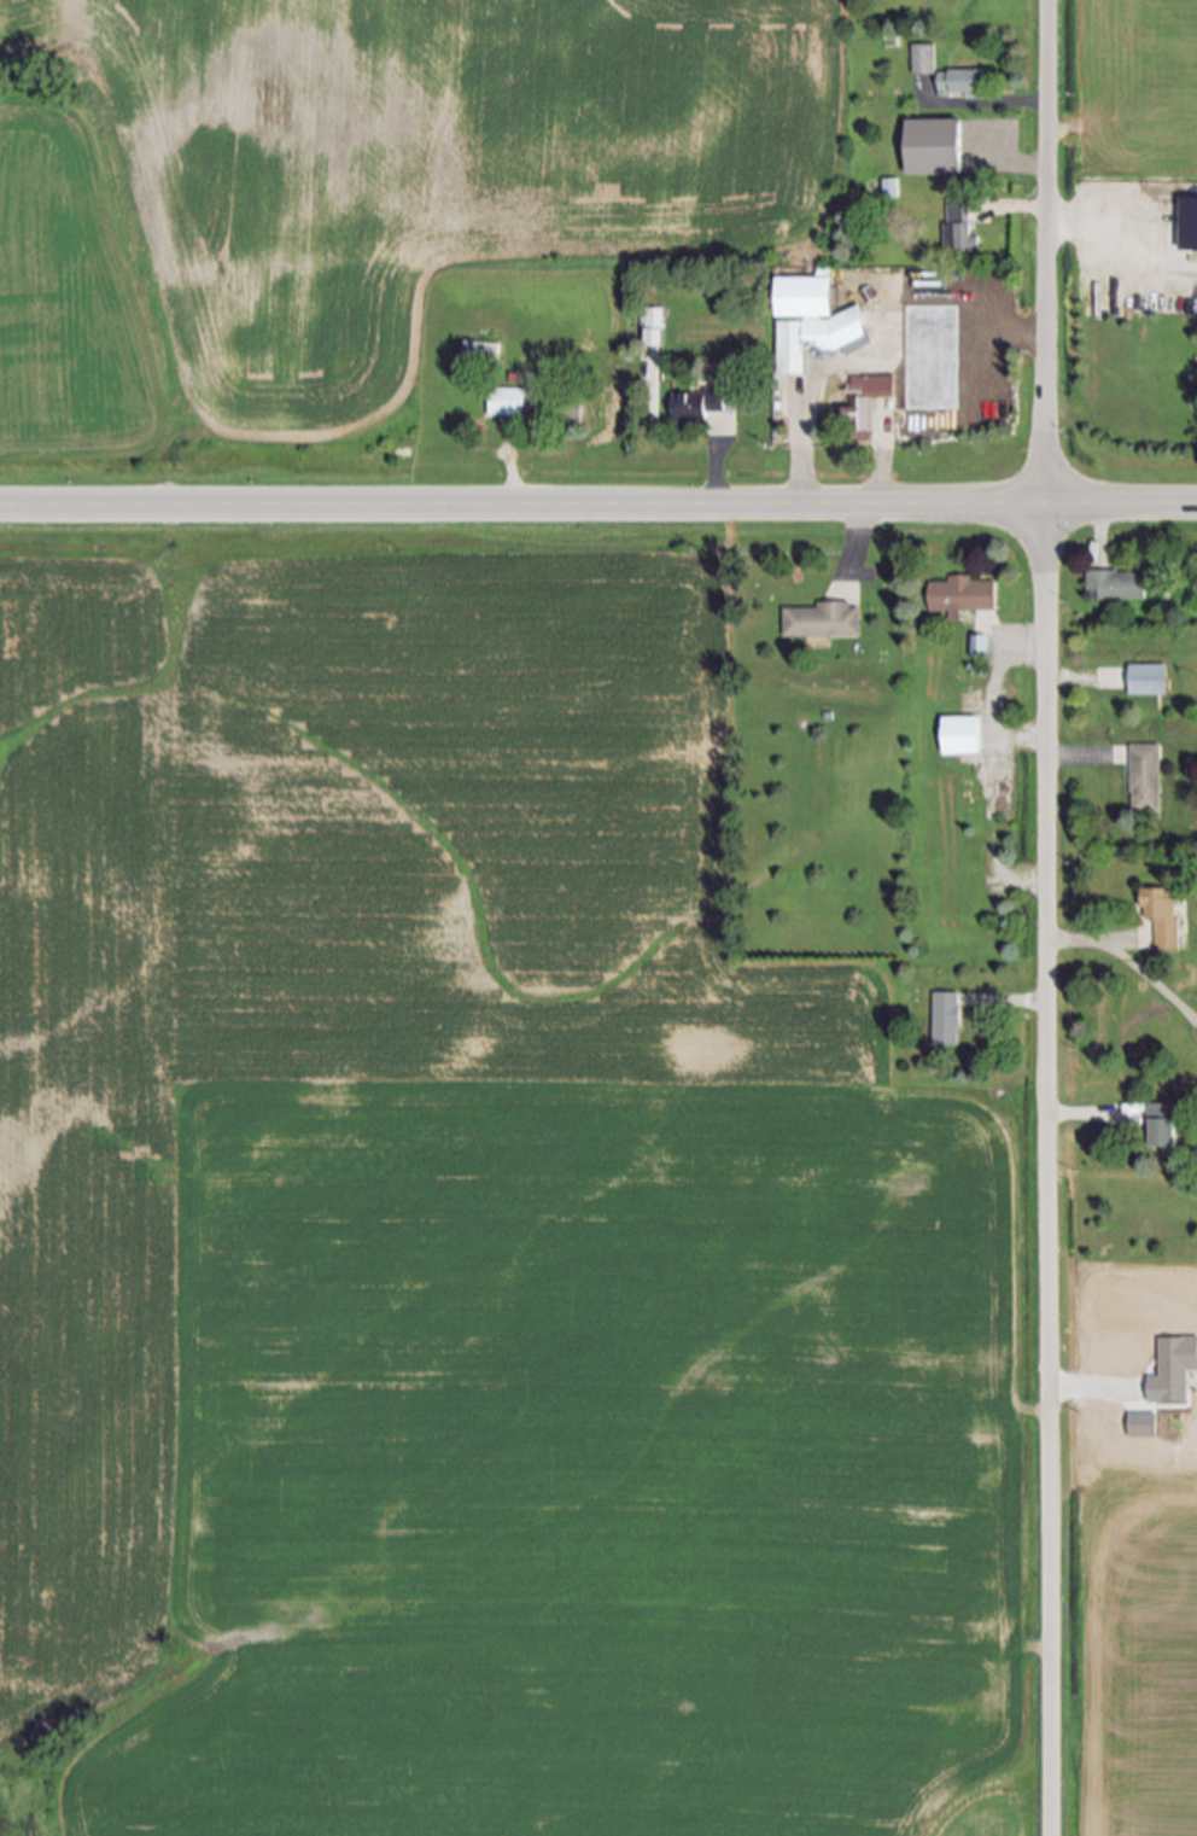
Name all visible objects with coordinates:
building: (926, 62)
crop: (1126, 87)
building: (963, 88)
road: (1003, 103)
building: (936, 152)
building: (893, 192)
crop: (366, 206)
building: (1189, 225)
building: (962, 232)
road: (1097, 238)
building: (811, 322)
building: (654, 327)
building: (475, 359)
building: (884, 386)
building: (507, 403)
building: (699, 407)
building: (877, 418)
building: (860, 419)
road: (801, 472)
road: (510, 474)
road: (883, 474)
road: (716, 478)
road: (598, 506)
road: (859, 534)
building: (1116, 588)
building: (963, 598)
building: (823, 622)
building: (981, 647)
building: (1148, 681)
road: (1081, 682)
building: (960, 738)
building: (1148, 780)
road: (1049, 917)
building: (1158, 922)
road: (1132, 961)
road: (1018, 999)
building: (947, 1021)
road: (1085, 1112)
building: (1163, 1127)
crop: (473, 1226)
building: (1173, 1366)
building: (1143, 1423)
crop: (1128, 1655)

